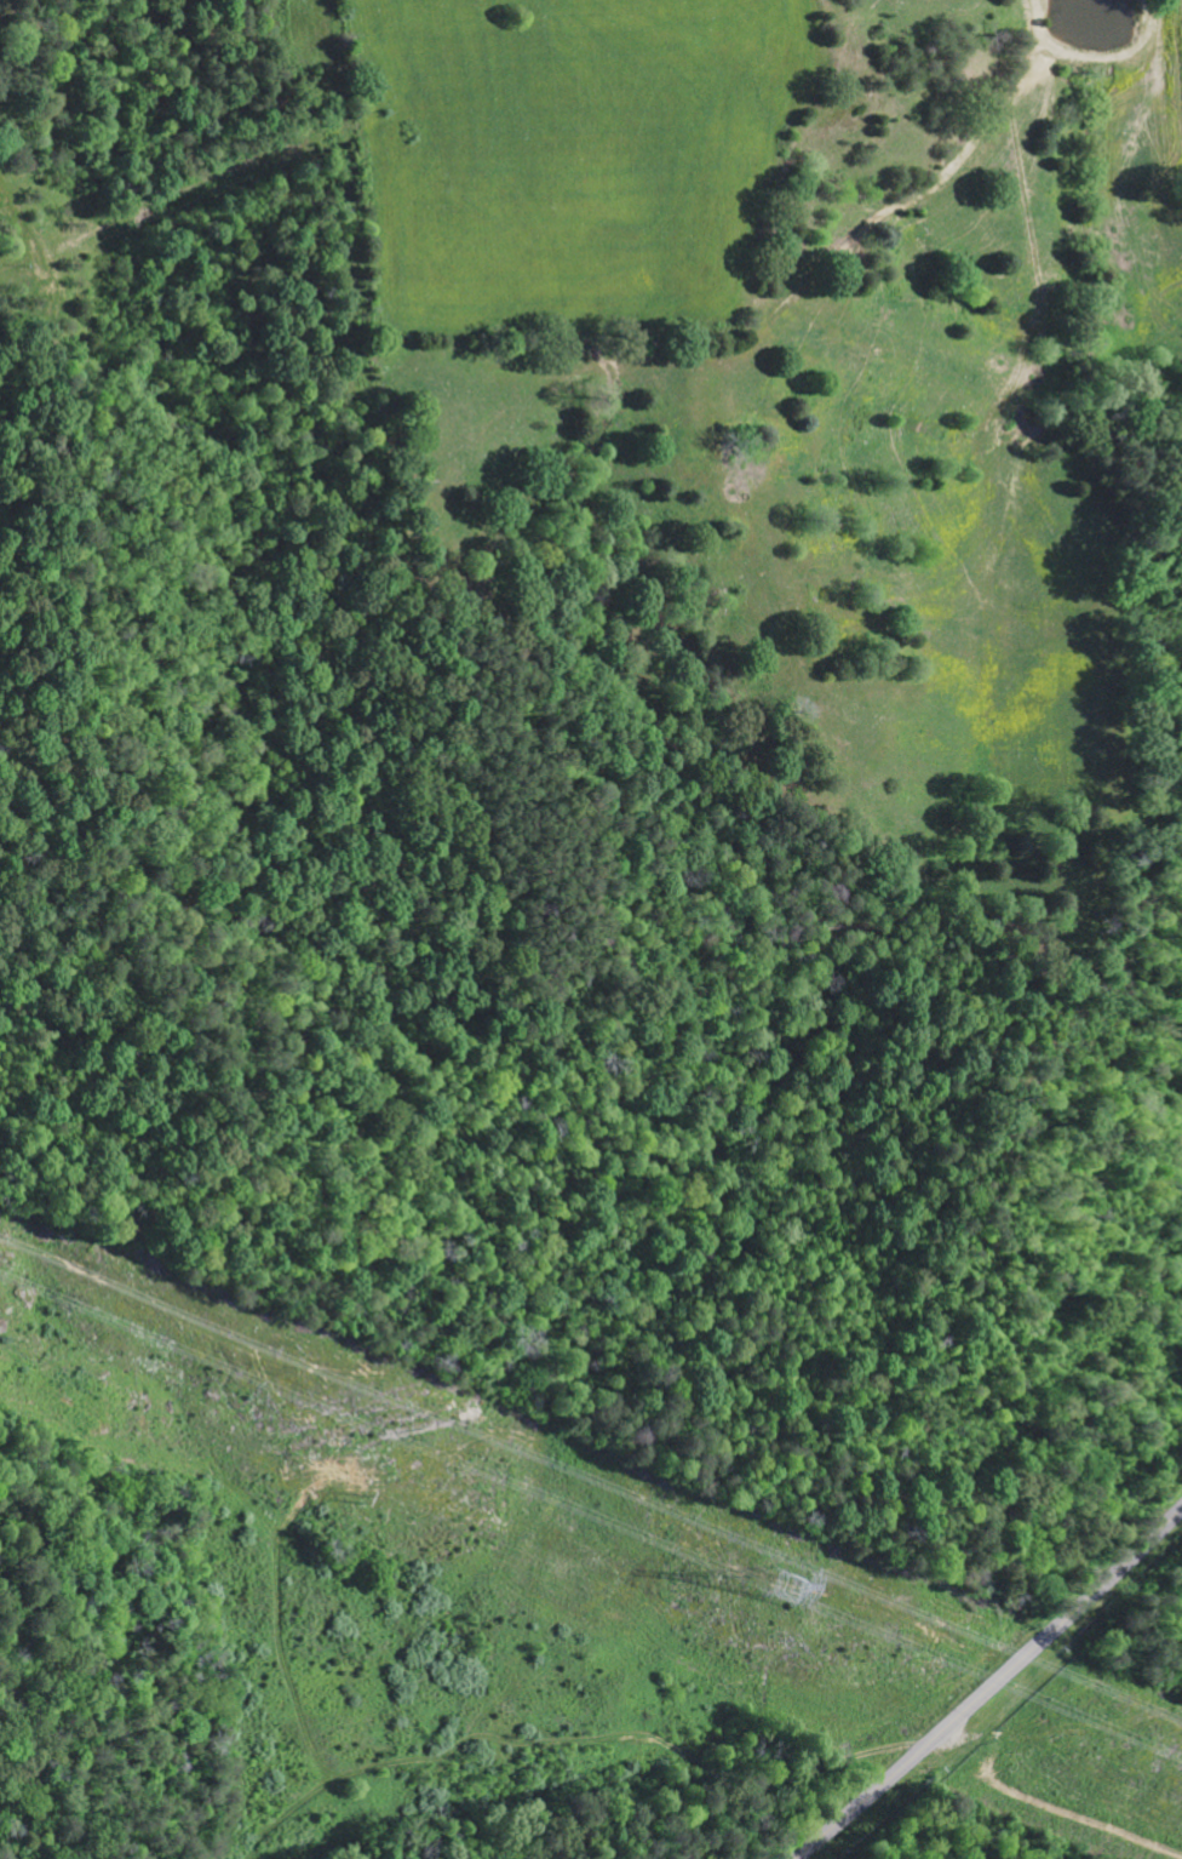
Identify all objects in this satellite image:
power tower: (779, 1583)
road: (989, 1686)

